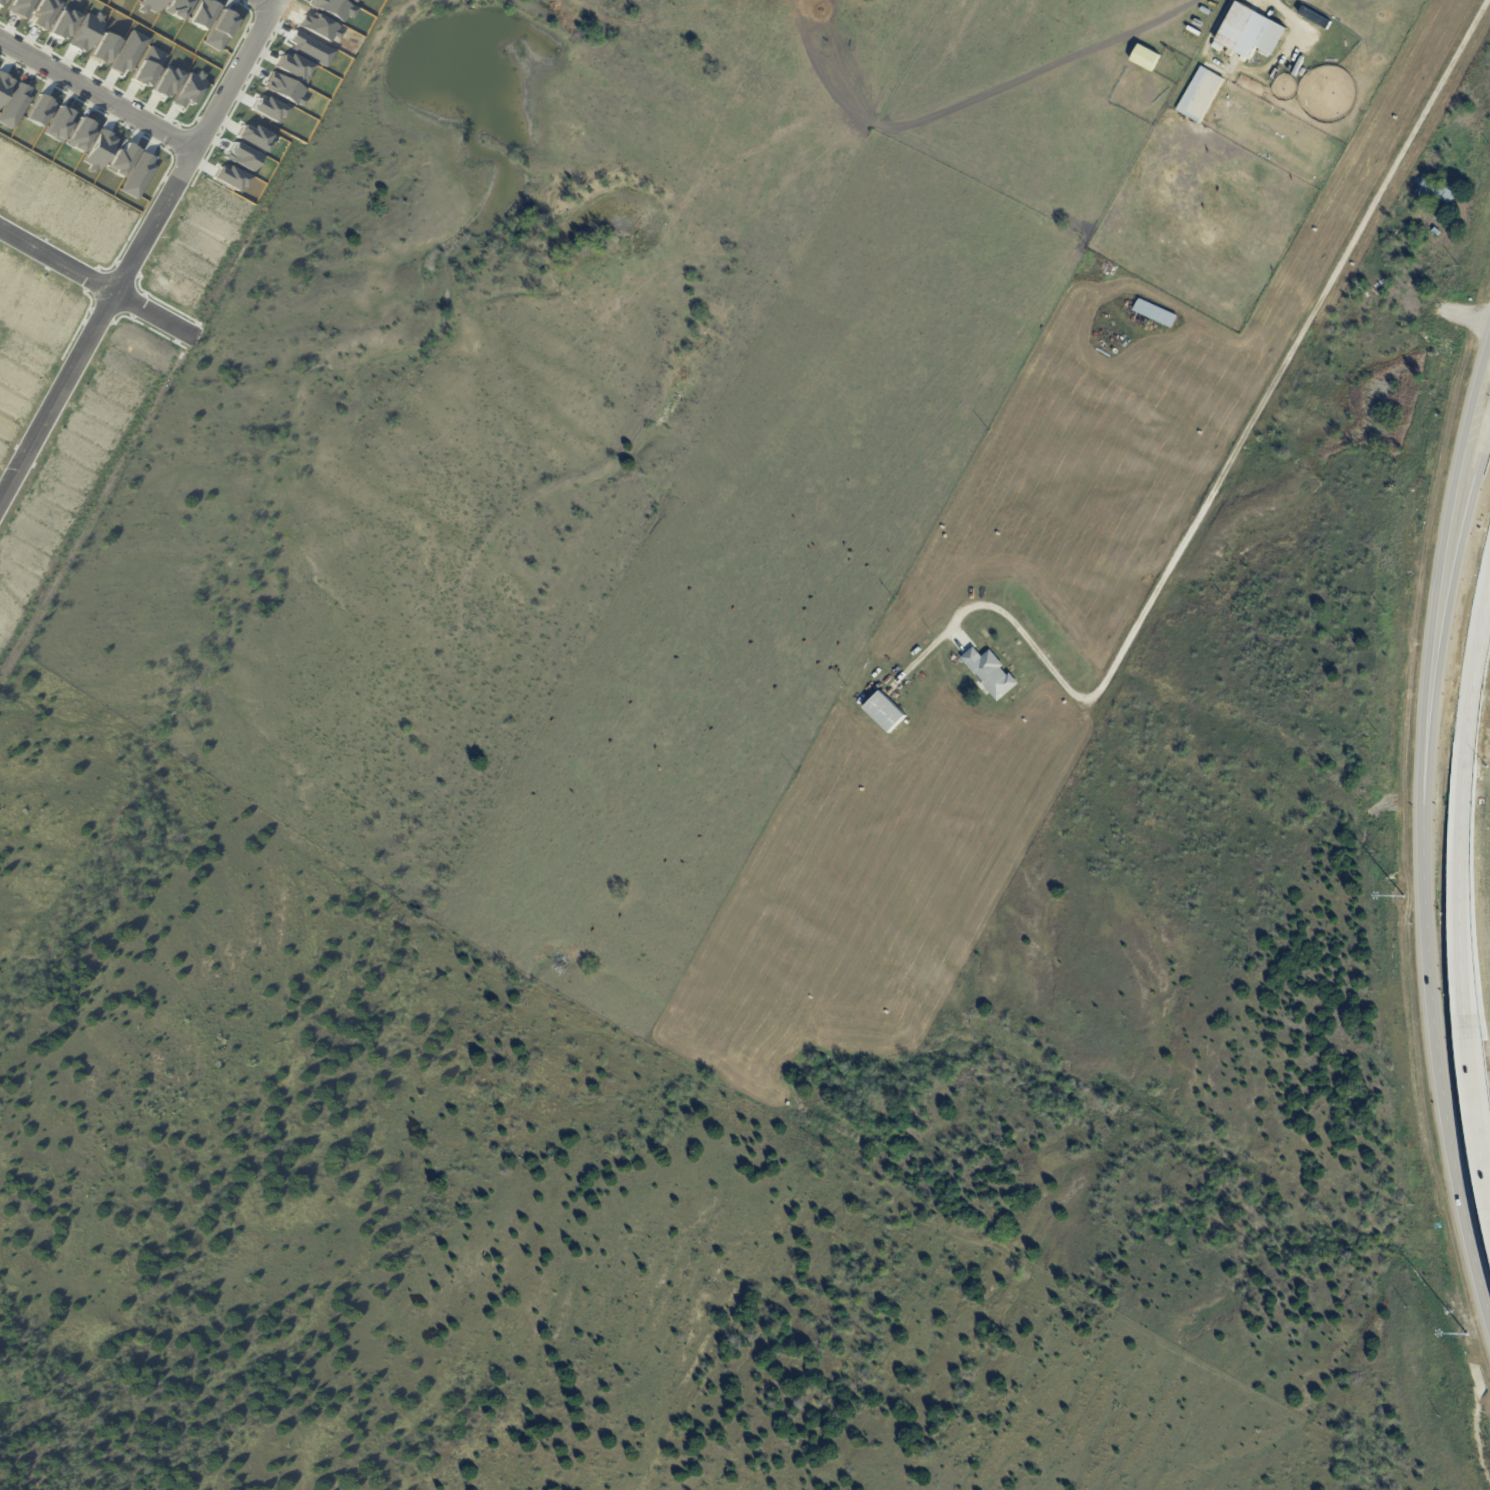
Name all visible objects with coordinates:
road: (278, 1)
building: (357, 1)
building: (3, 2)
building: (151, 5)
building: (21, 7)
building: (177, 8)
building: (337, 9)
building: (44, 13)
building: (201, 13)
building: (65, 23)
building: (323, 28)
building: (220, 30)
building: (86, 31)
building: (1251, 33)
building: (1219, 47)
building: (106, 48)
building: (313, 49)
building: (129, 52)
building: (1146, 58)
building: (296, 65)
building: (149, 67)
building: (169, 82)
building: (4, 87)
road: (100, 87)
building: (286, 89)
building: (191, 90)
building: (1203, 96)
building: (14, 105)
building: (270, 108)
building: (40, 111)
building: (60, 124)
building: (81, 135)
building: (256, 135)
building: (99, 148)
building: (244, 157)
building: (121, 159)
building: (139, 175)
building: (232, 179)
building: (1437, 194)
building: (1438, 234)
road: (141, 254)
road: (94, 272)
building: (1361, 291)
building: (1157, 314)
road: (1257, 411)
road: (1463, 519)
road: (1472, 662)
building: (992, 674)
building: (886, 712)
road: (1421, 839)
road: (1462, 978)

